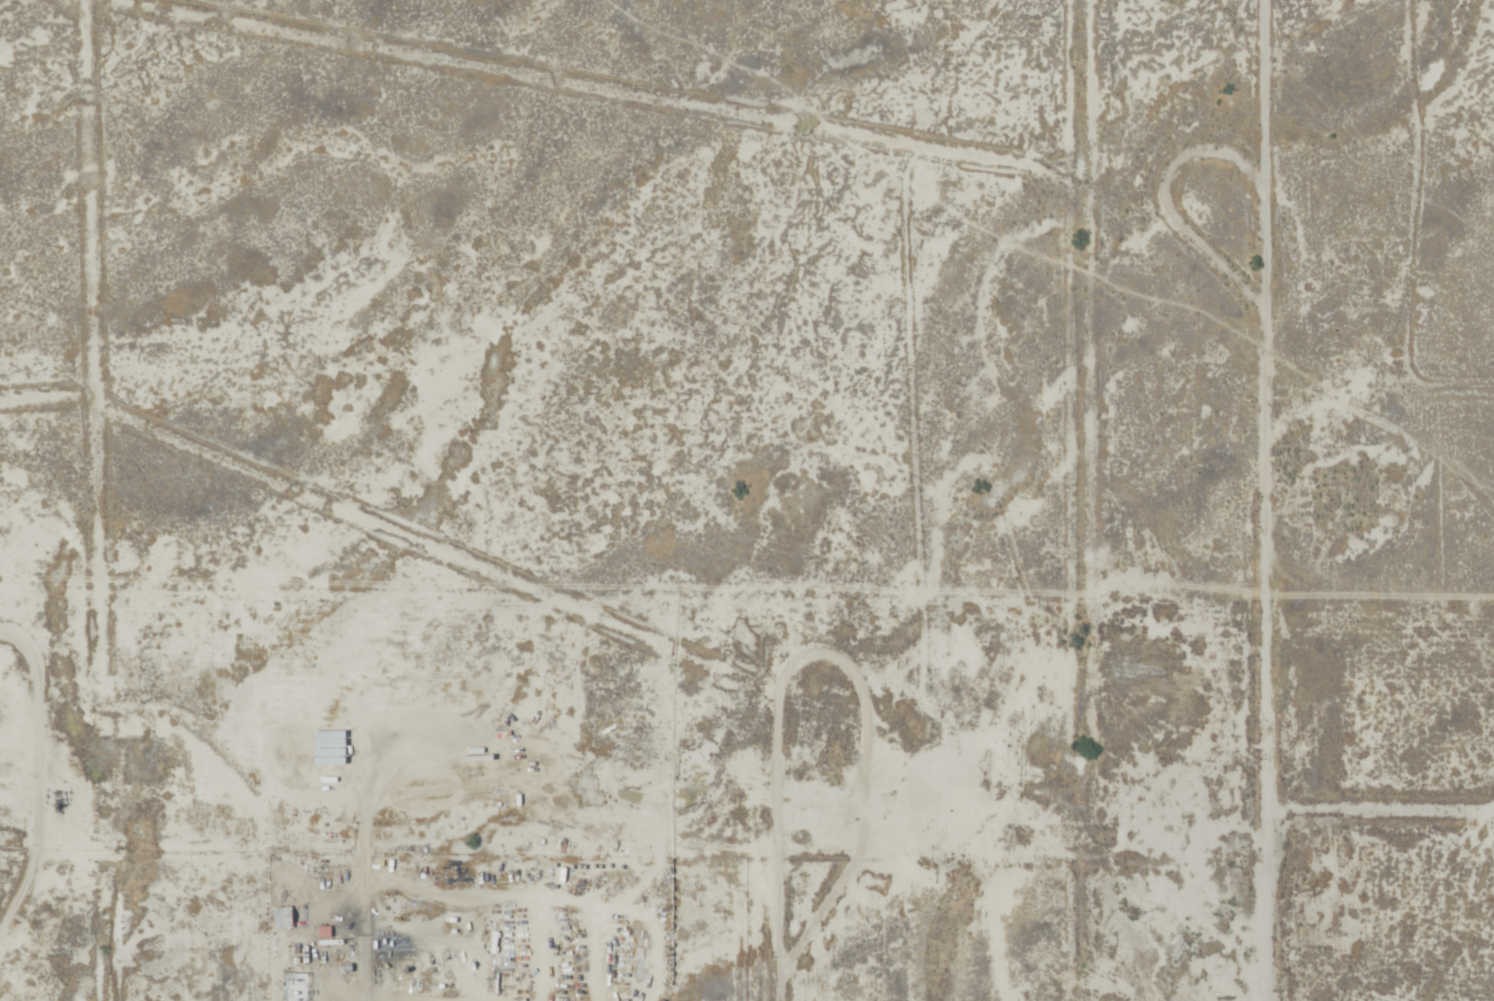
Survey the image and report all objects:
road: (1161, 246)
road: (1252, 500)
road: (37, 791)
road: (832, 899)
road: (784, 968)

